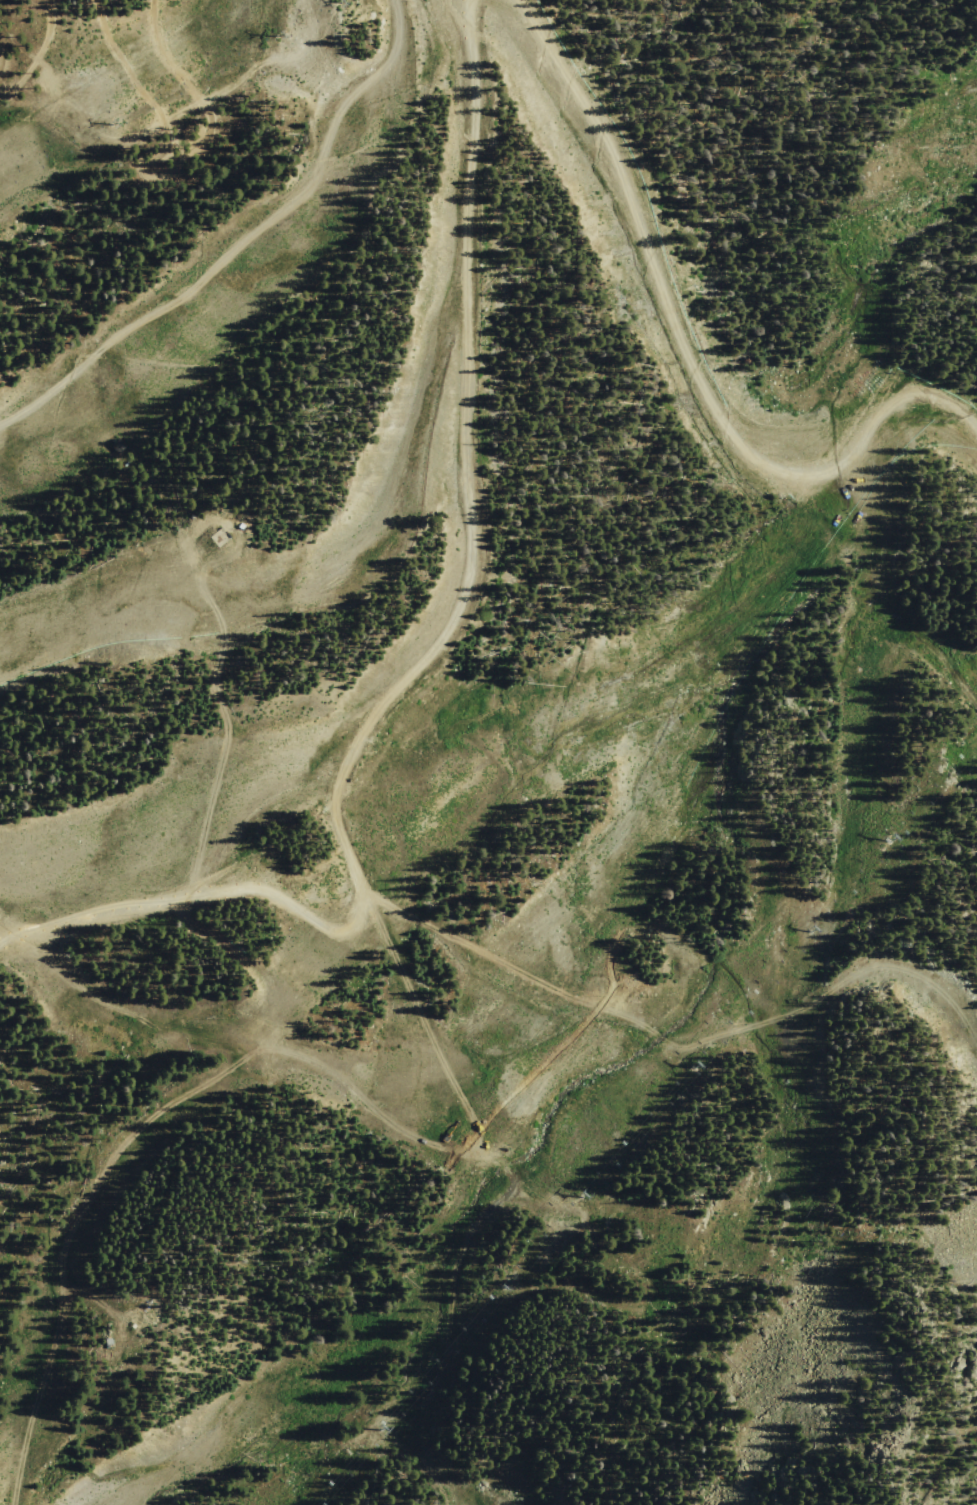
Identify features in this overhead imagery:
road: (85, 23)
aerialway pylon: (277, 37)
road: (41, 55)
road: (172, 72)
aerialway pylon: (111, 125)
road: (188, 145)
road: (249, 248)
road: (685, 345)
building: (243, 525)
road: (886, 569)
road: (465, 592)
road: (220, 693)
ski resort: (487, 750)
aerialway pylon: (885, 837)
road: (383, 922)
aerialway pylon: (806, 927)
road: (504, 963)
aerialway pylon: (686, 1062)
road: (620, 1102)
aerialway pylon: (574, 1189)
road: (74, 1234)
road: (613, 1246)
aerialway pylon: (494, 1280)
aerialway pylon: (371, 1420)

